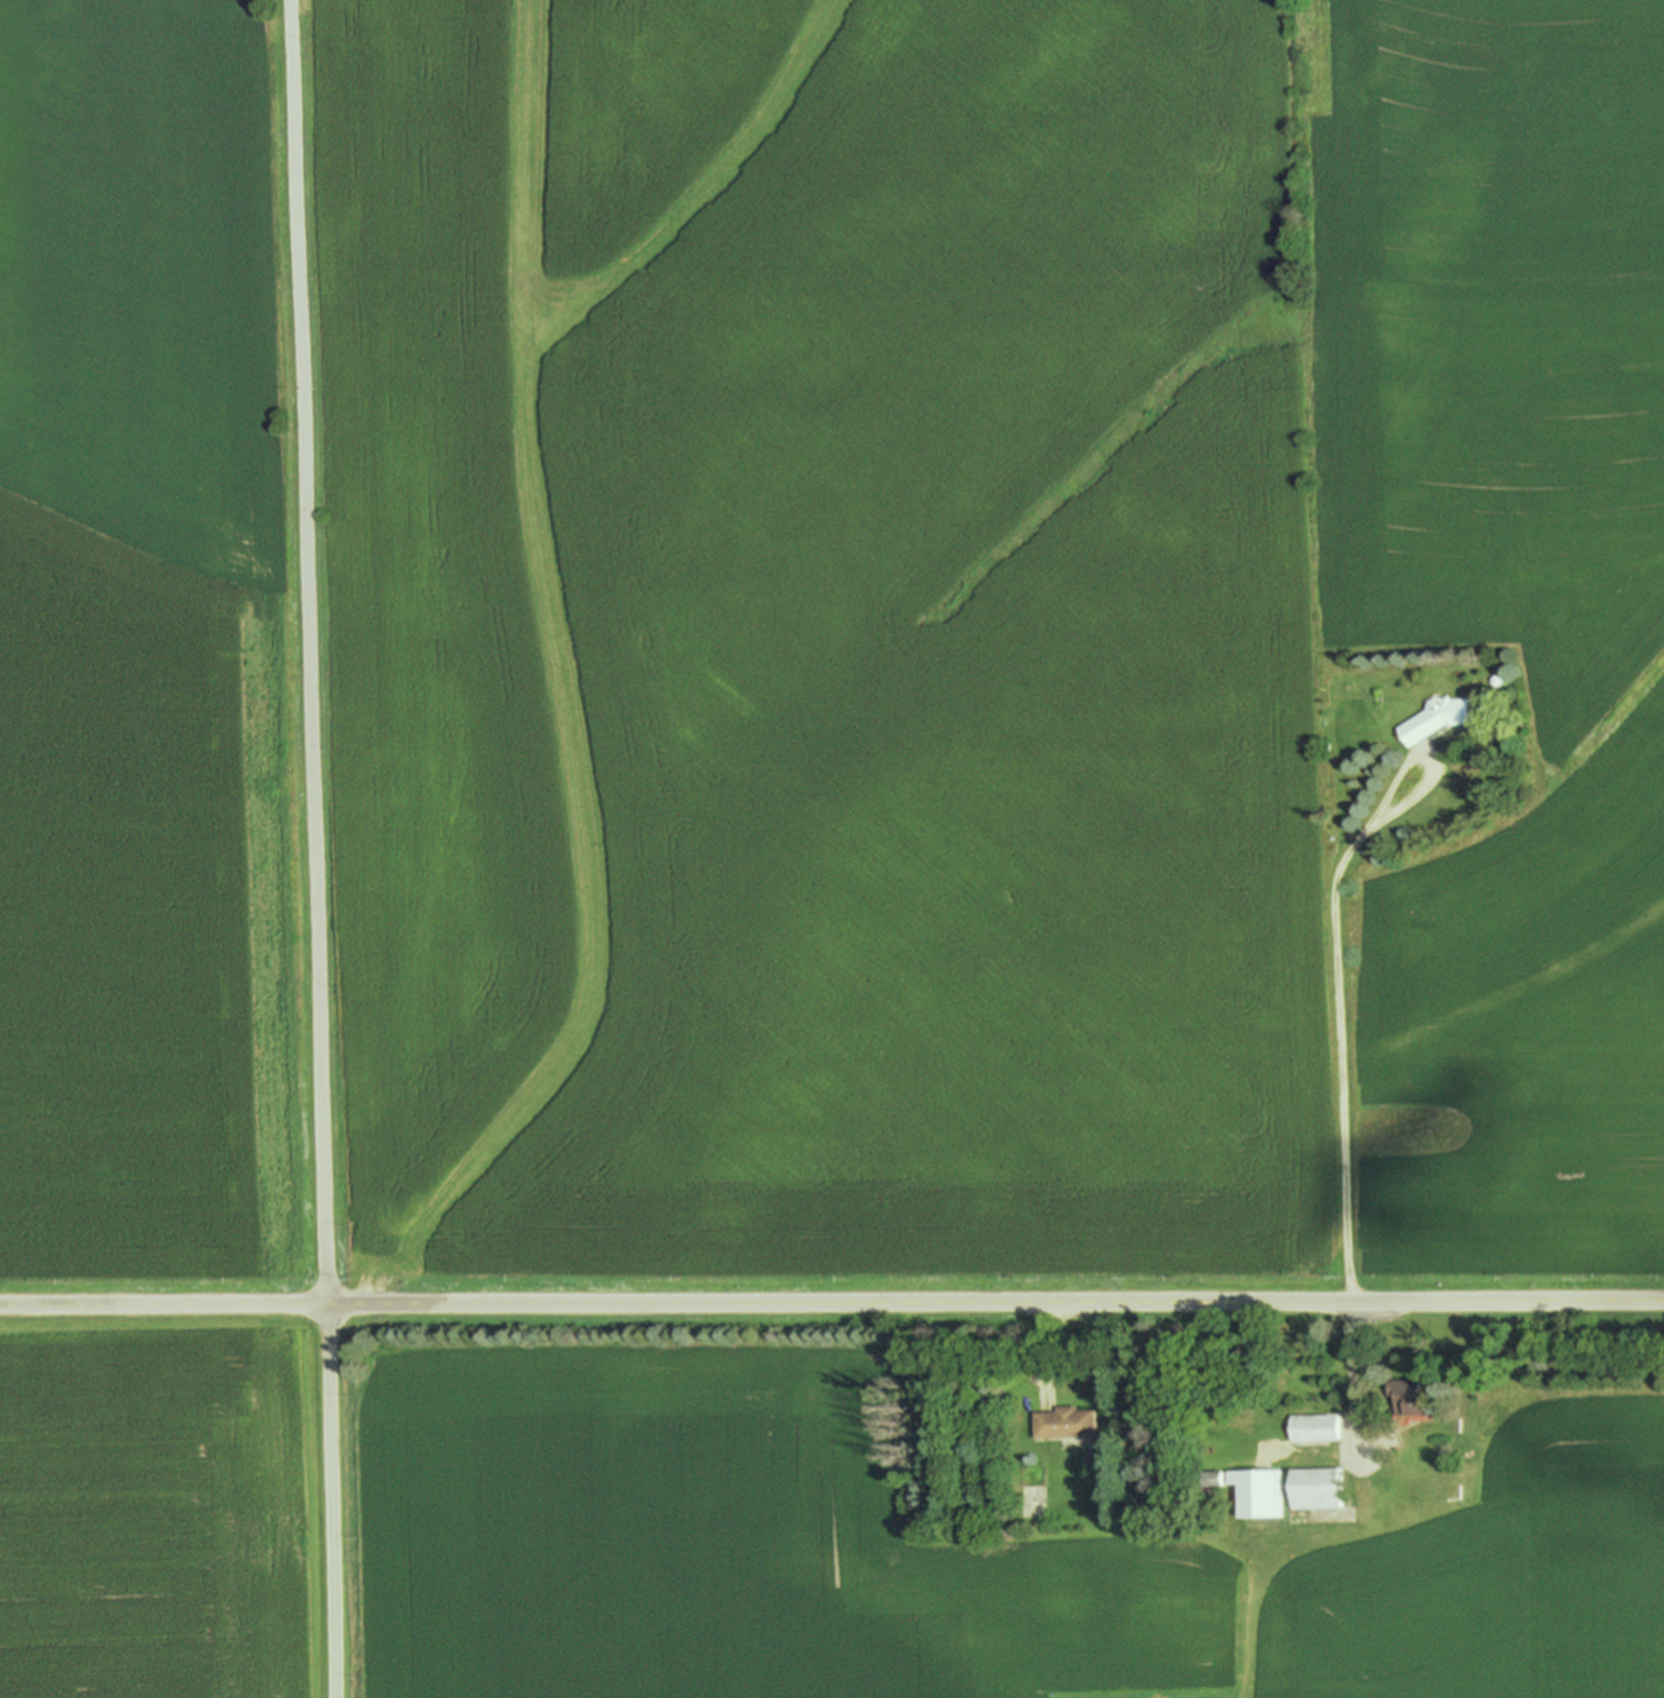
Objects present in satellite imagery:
building: (1443, 716)
road: (312, 848)
road: (831, 1302)
building: (1413, 1398)
building: (1064, 1423)
building: (1314, 1426)
building: (1319, 1488)
building: (1258, 1492)

